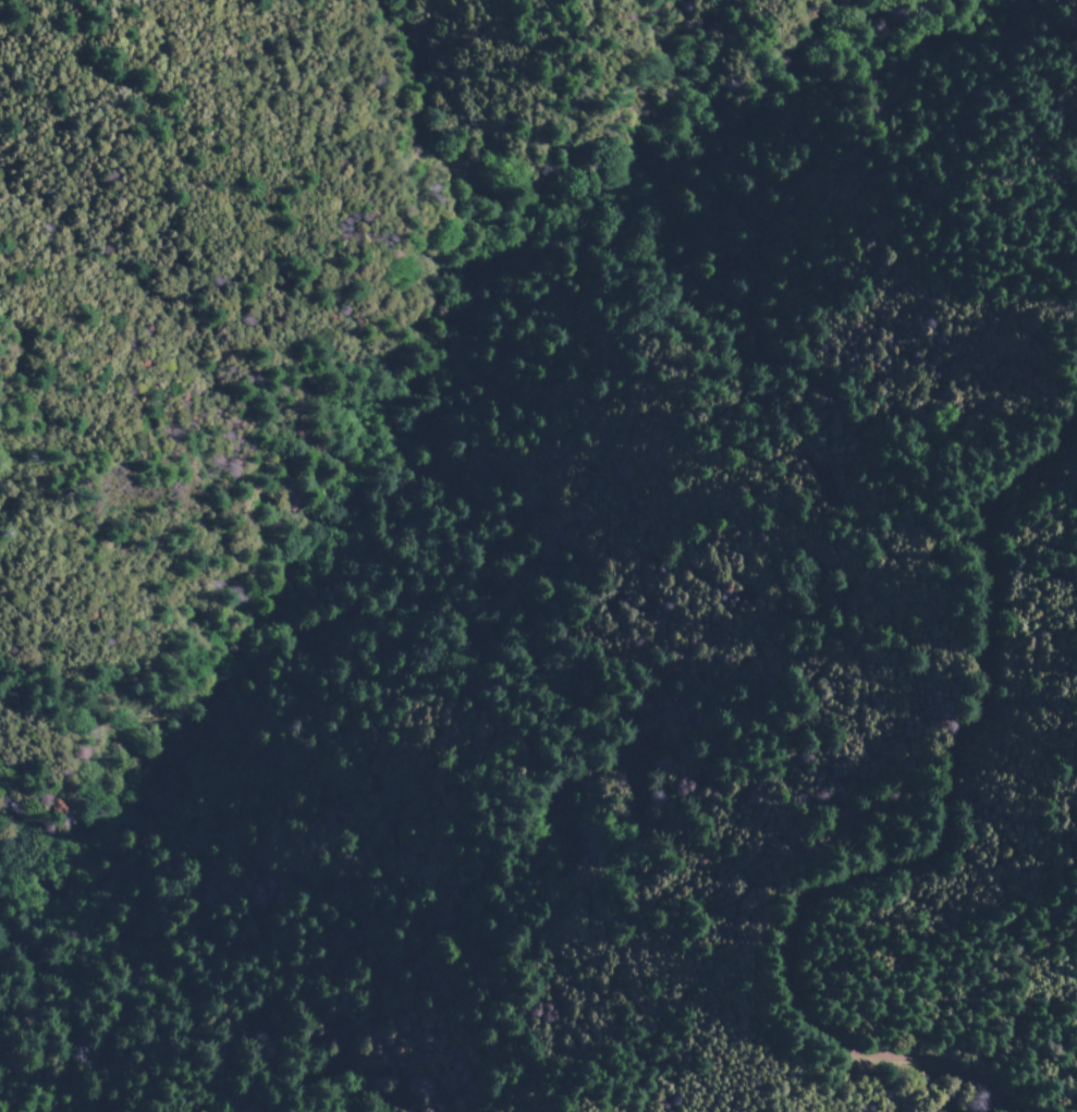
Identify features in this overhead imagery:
road: (895, 796)

